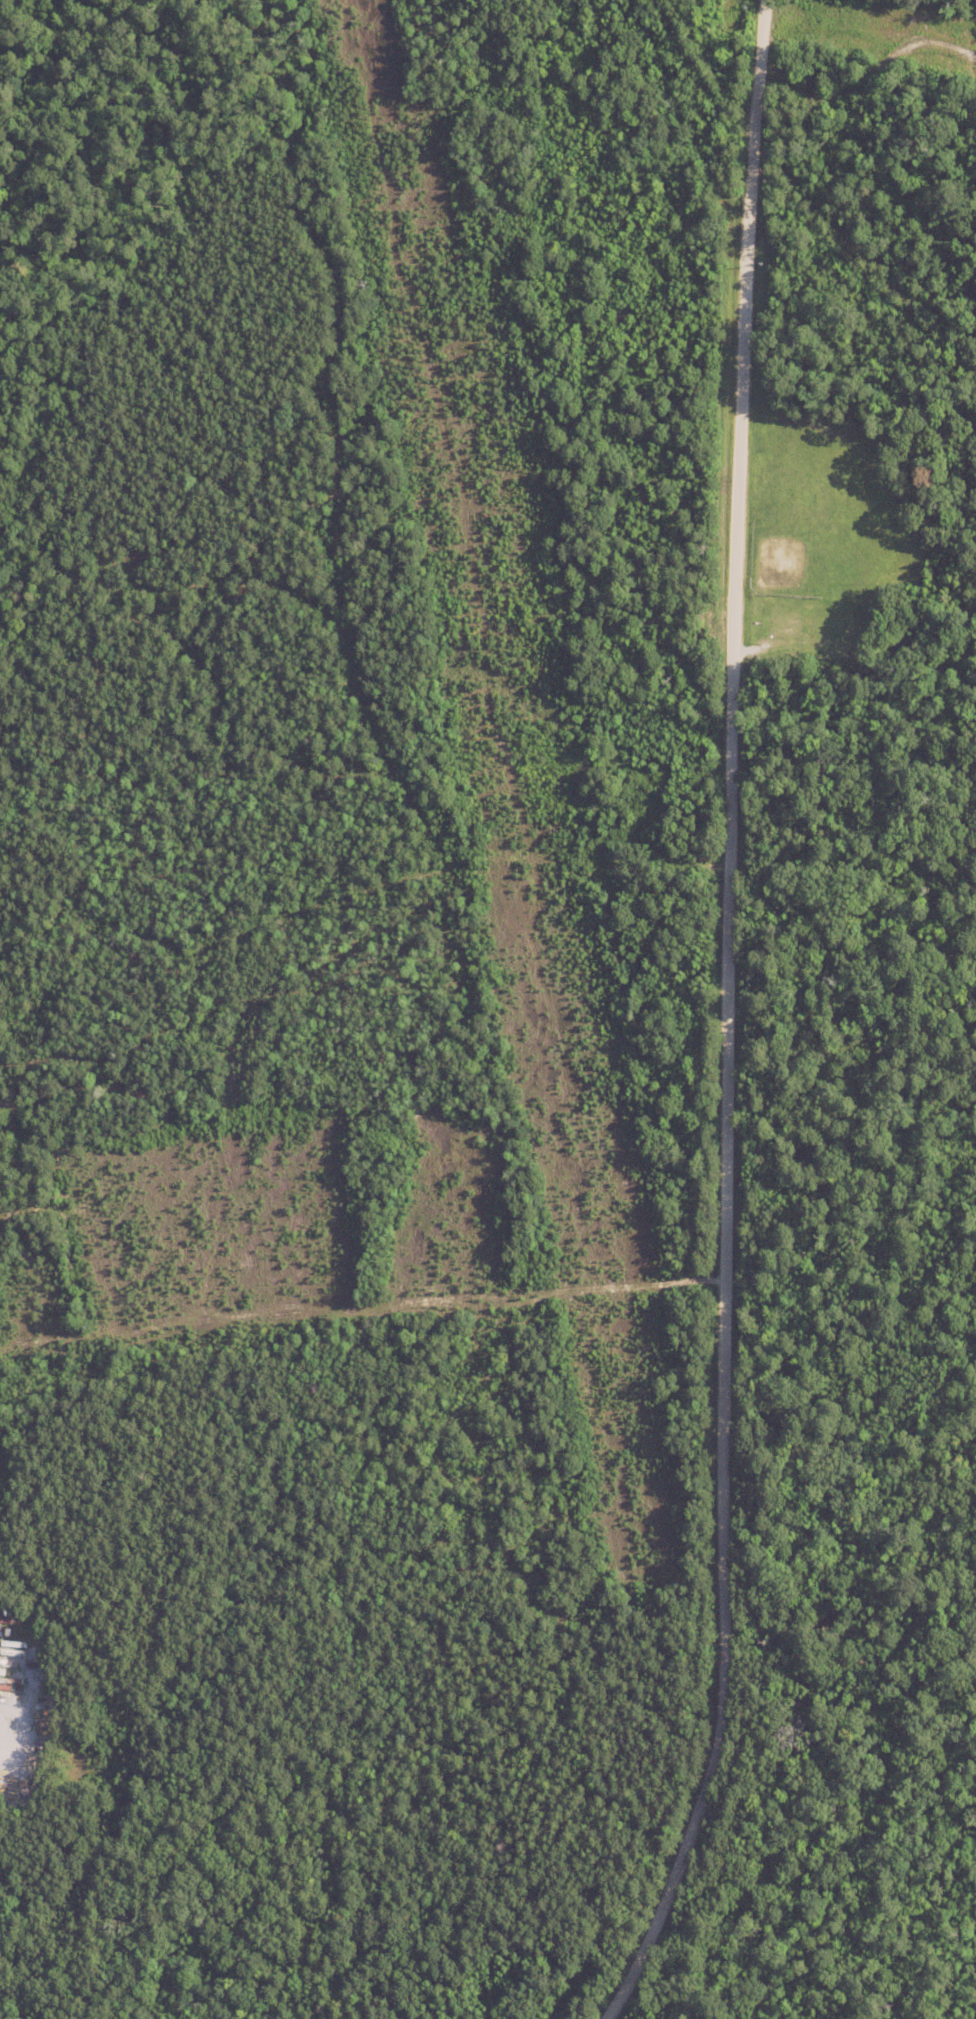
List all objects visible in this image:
road: (869, 33)
road: (725, 1021)
building: (8, 1629)
building: (2, 1711)

